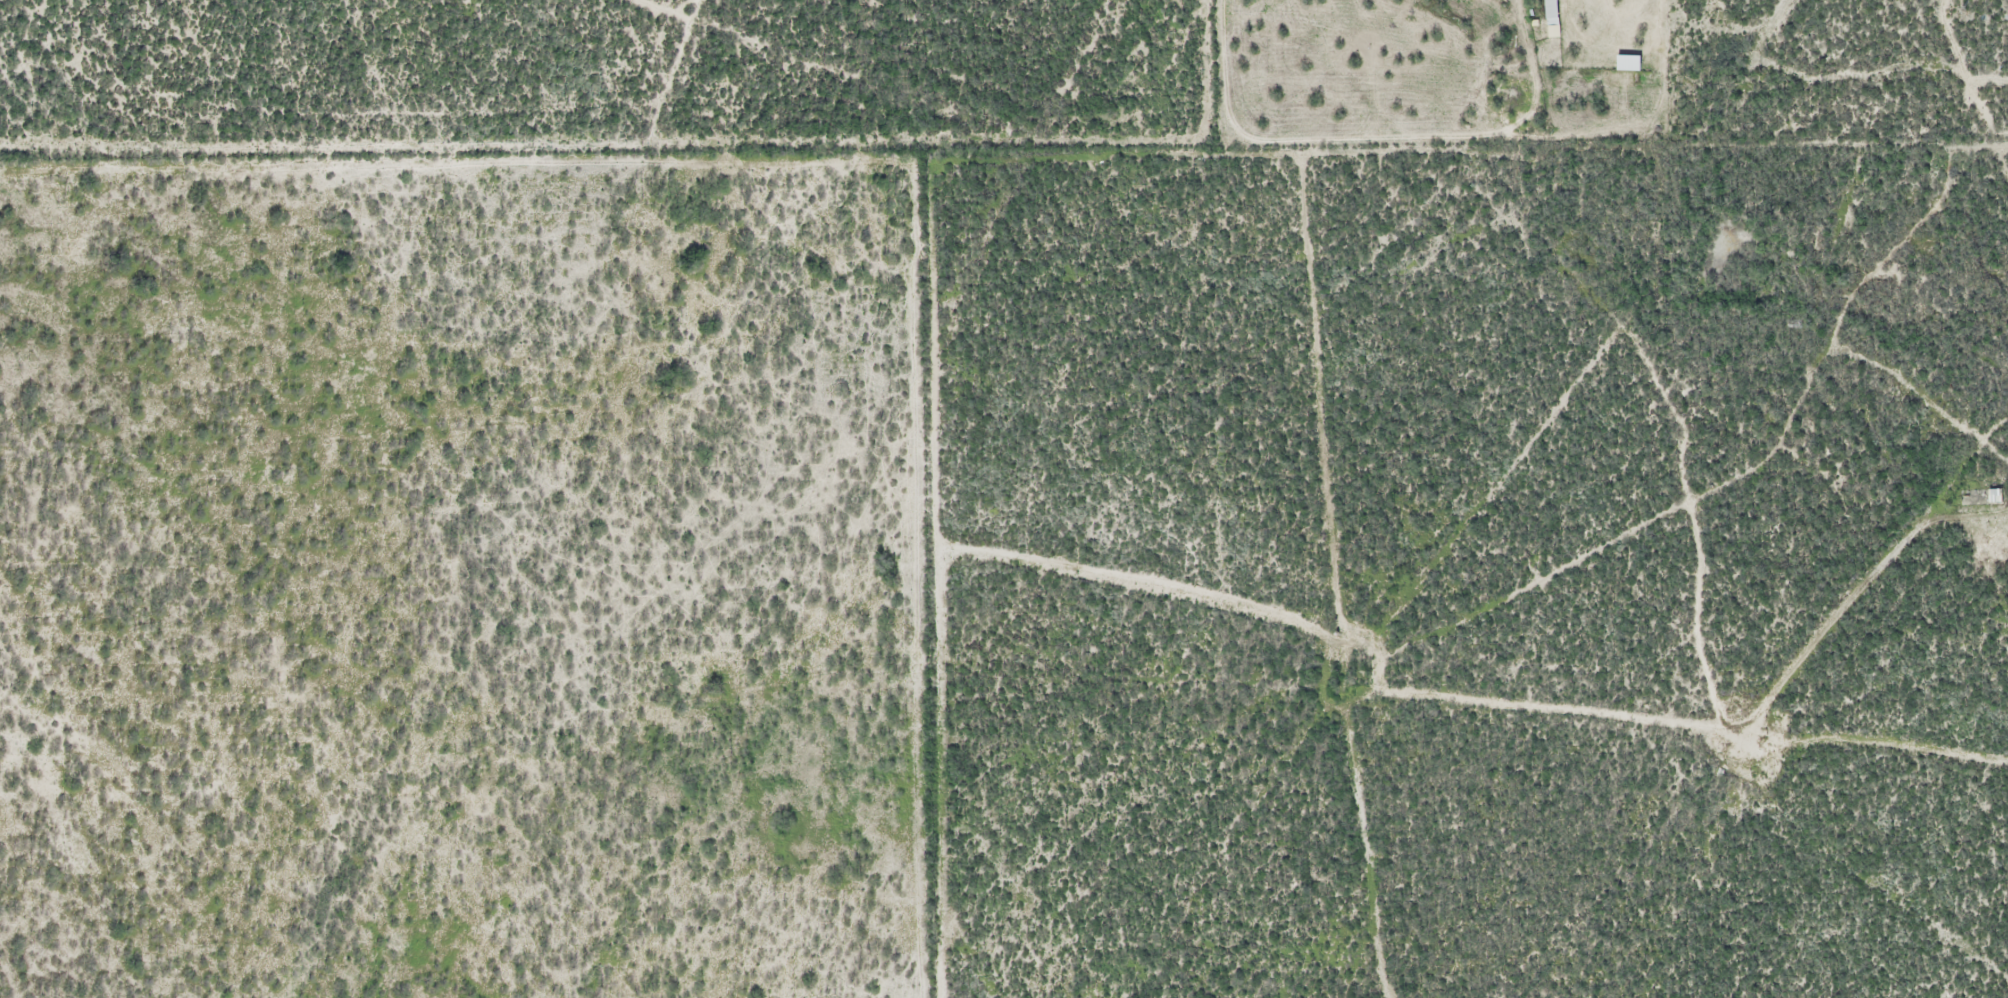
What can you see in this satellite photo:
building: (1553, 9)

